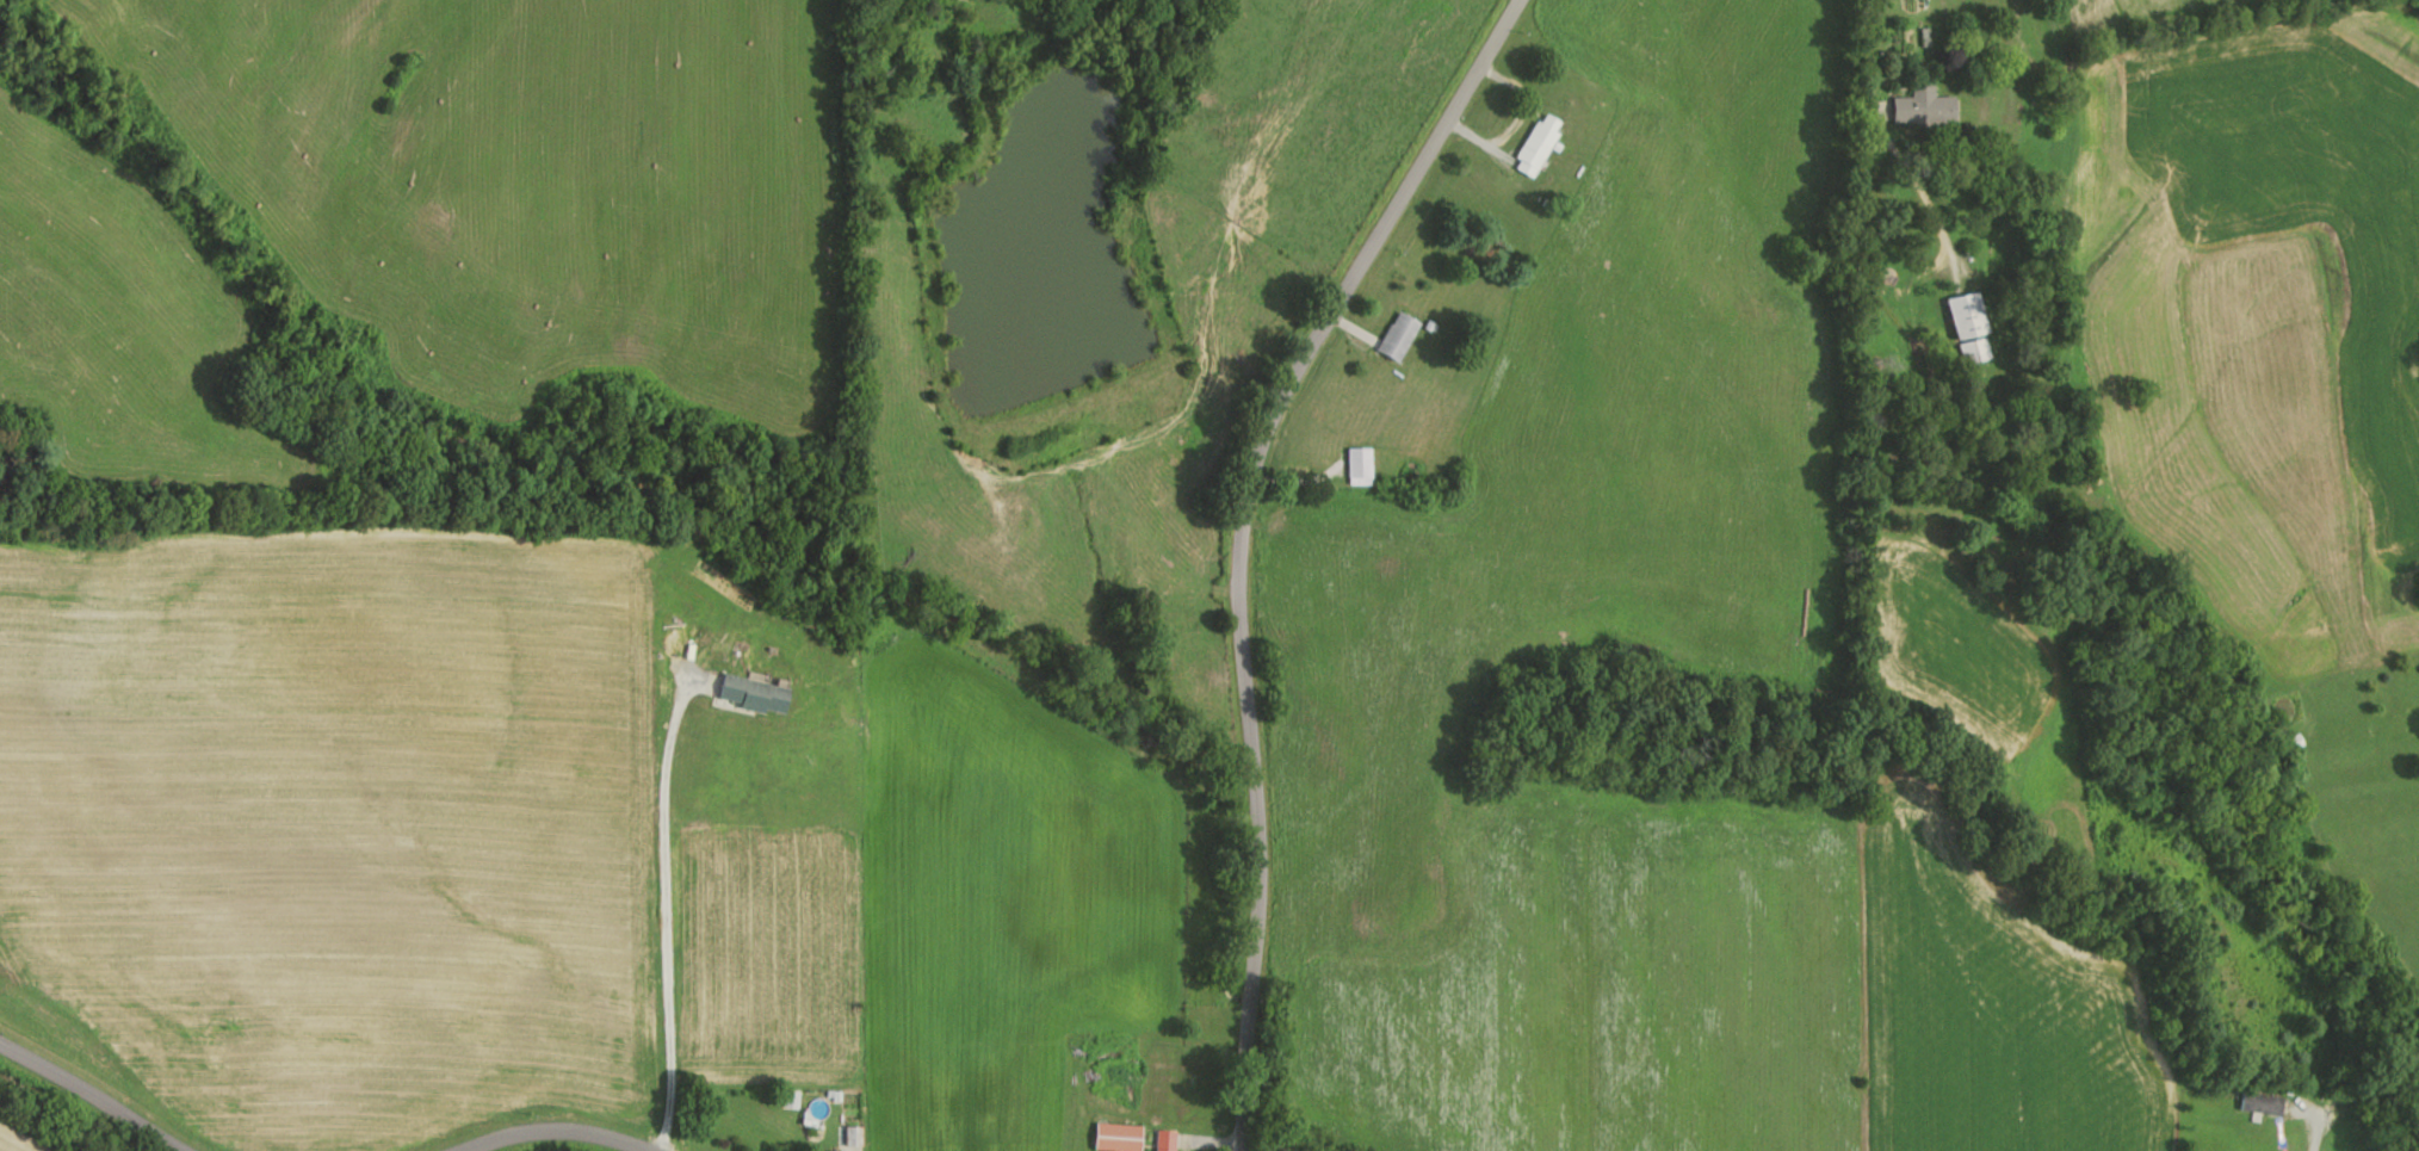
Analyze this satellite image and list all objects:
road: (2018, 8)
building: (1934, 104)
building: (1538, 143)
building: (1969, 316)
building: (1400, 335)
building: (1975, 352)
building: (1360, 465)
road: (1218, 533)
building: (749, 693)
road: (666, 903)
building: (1116, 1083)
road: (87, 1100)
building: (2262, 1103)
road: (550, 1125)
building: (1118, 1137)
road: (2314, 1137)
building: (1165, 1140)
building: (2291, 1144)

